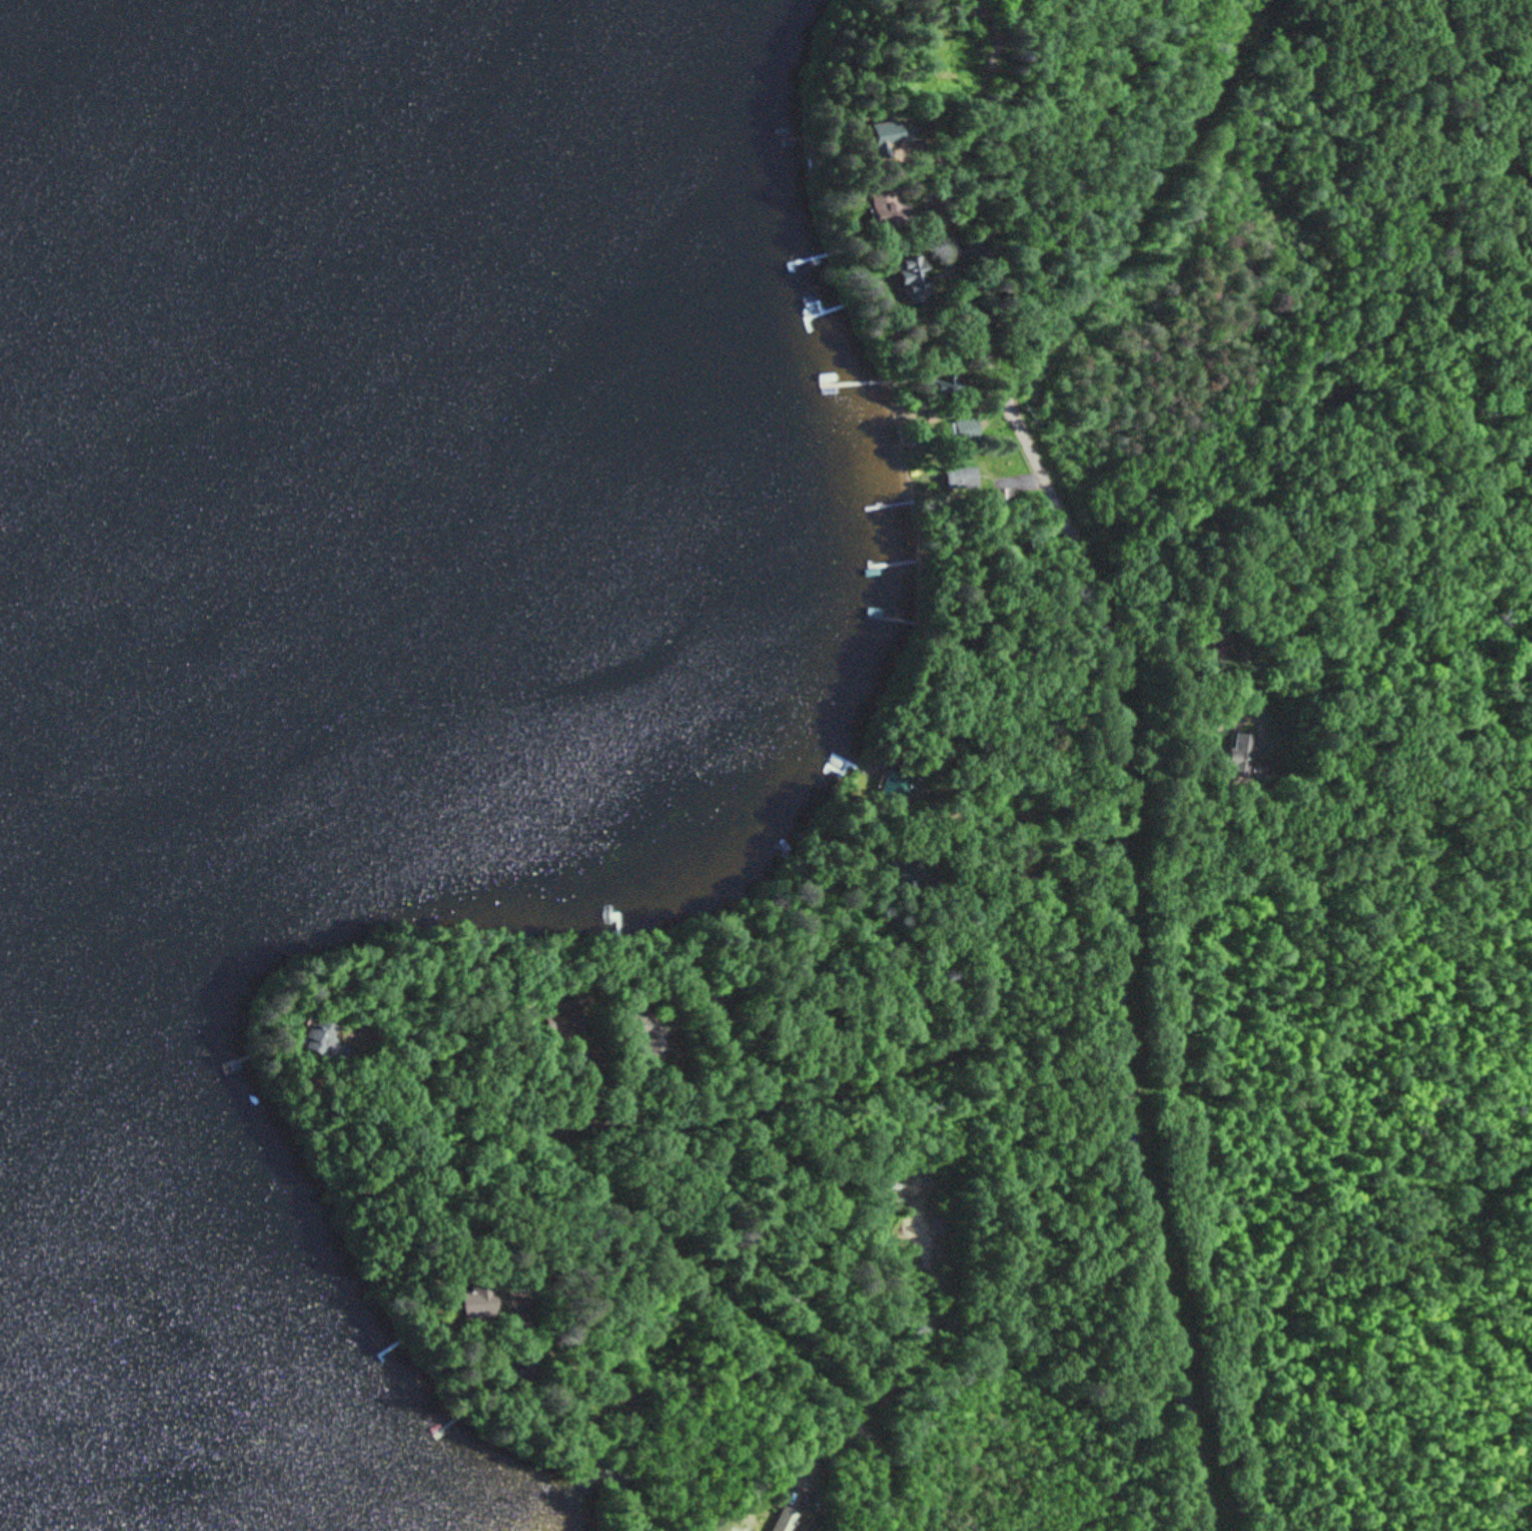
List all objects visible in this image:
building: (882, 135)
building: (878, 203)
building: (907, 277)
building: (961, 426)
building: (958, 477)
road: (1013, 499)
road: (1021, 562)
road: (1145, 750)
building: (1240, 753)
road: (718, 964)
building: (706, 1007)
building: (564, 1019)
road: (409, 1028)
building: (643, 1029)
building: (311, 1036)
road: (613, 1219)
road: (562, 1221)
building: (475, 1300)
road: (667, 1443)

